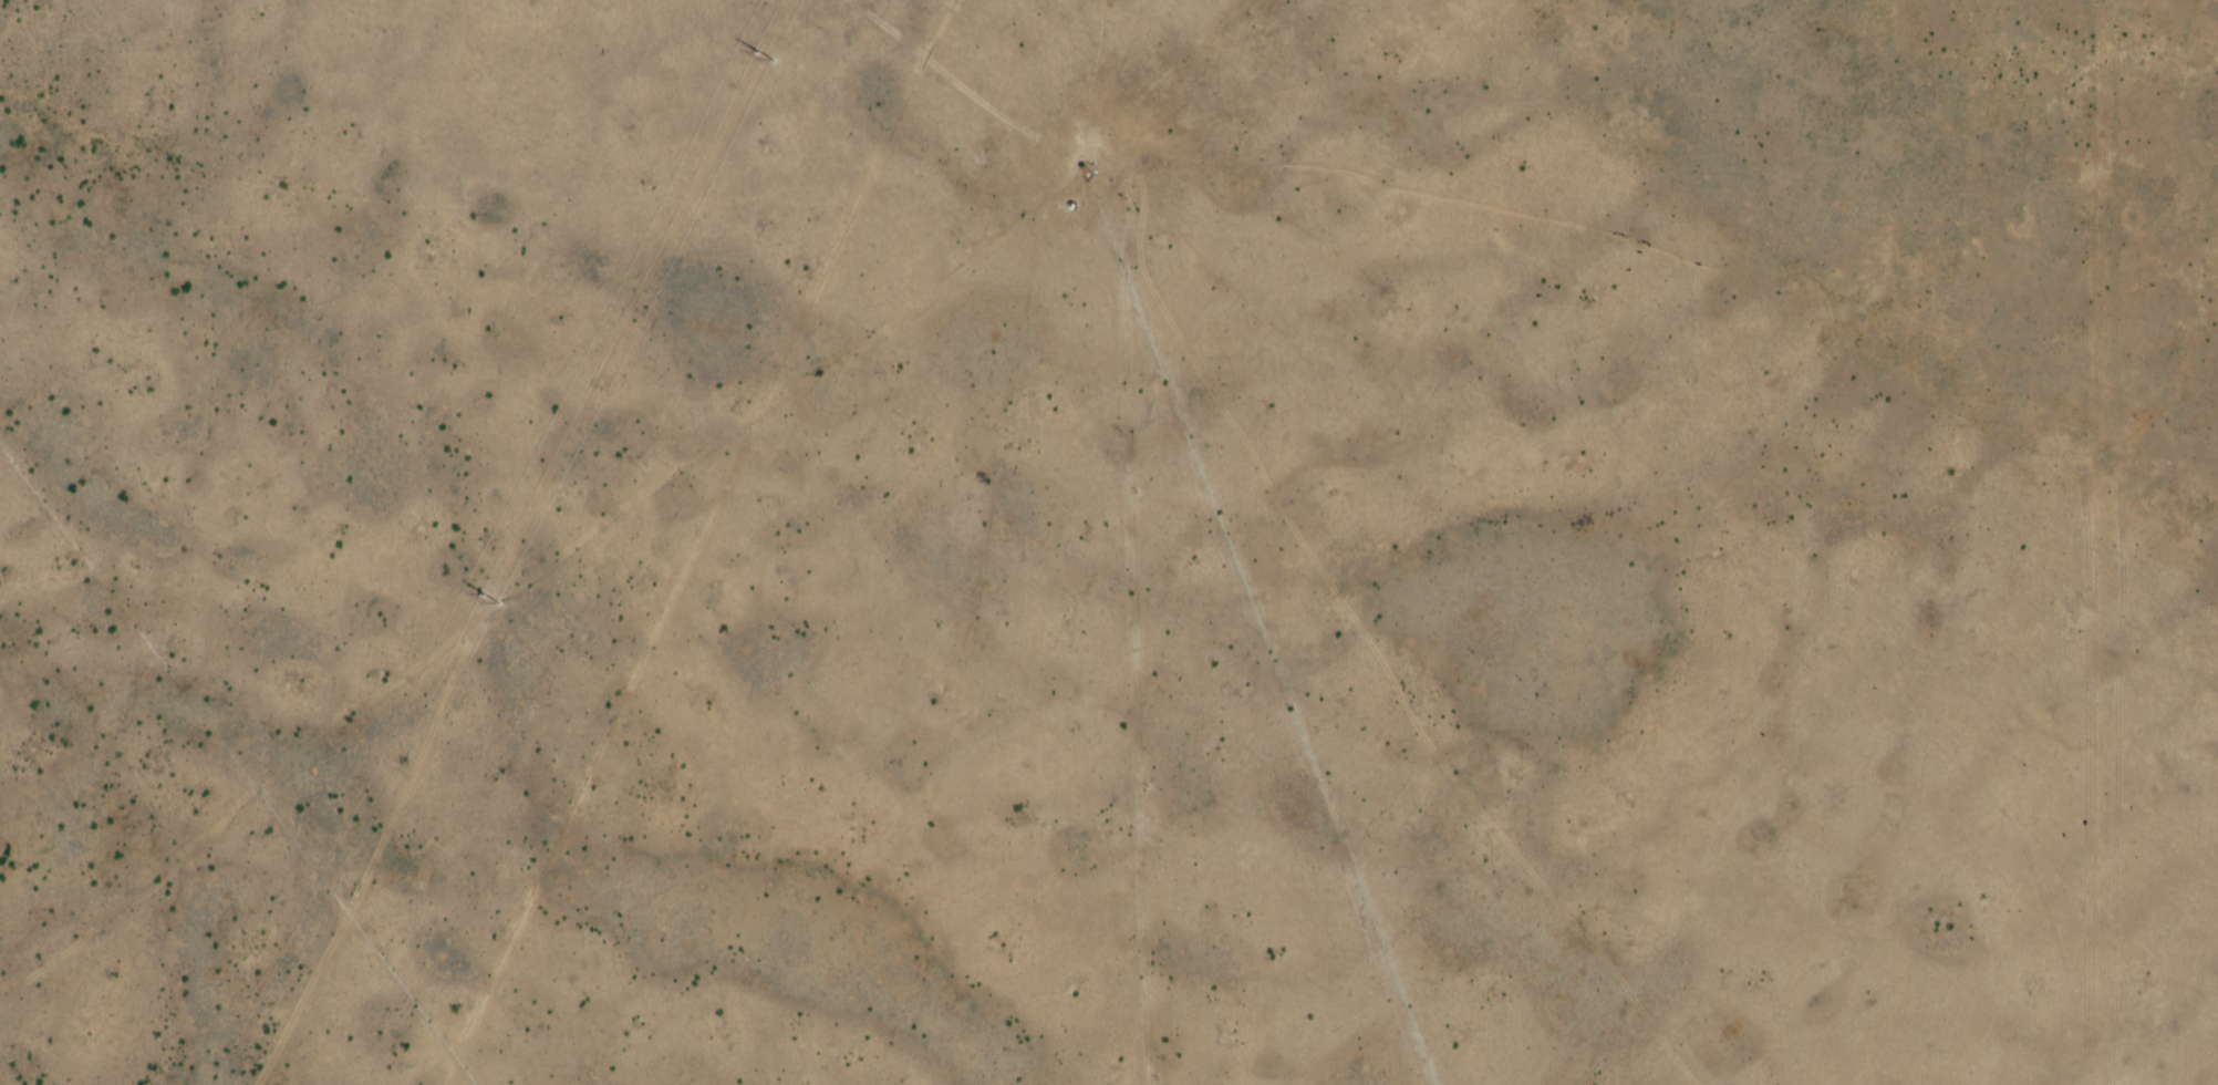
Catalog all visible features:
power tower: (764, 52)
power tower: (490, 596)

